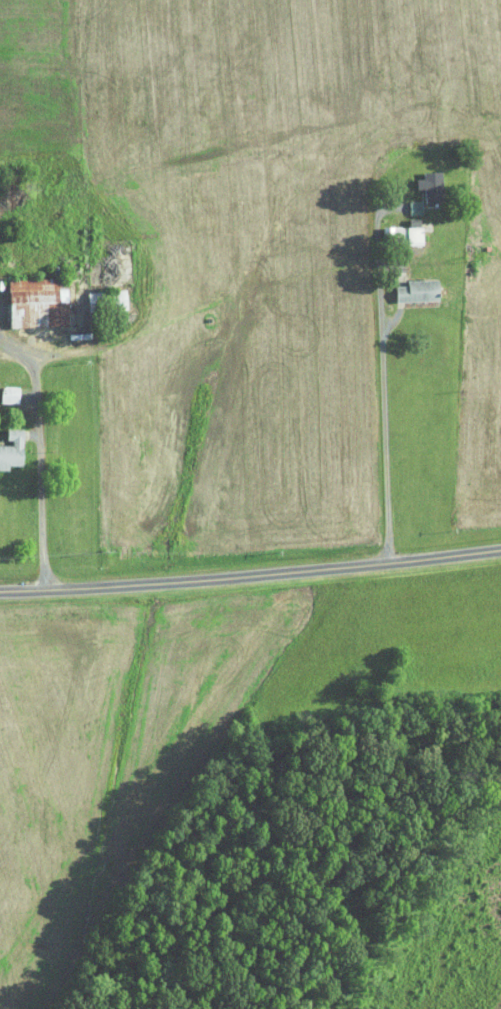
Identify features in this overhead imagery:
building: (424, 180)
building: (406, 200)
building: (385, 226)
building: (406, 229)
building: (410, 284)
building: (30, 296)
road: (391, 319)
road: (383, 365)
road: (36, 385)
building: (5, 388)
road: (82, 436)
building: (7, 440)
road: (45, 516)
road: (250, 570)

